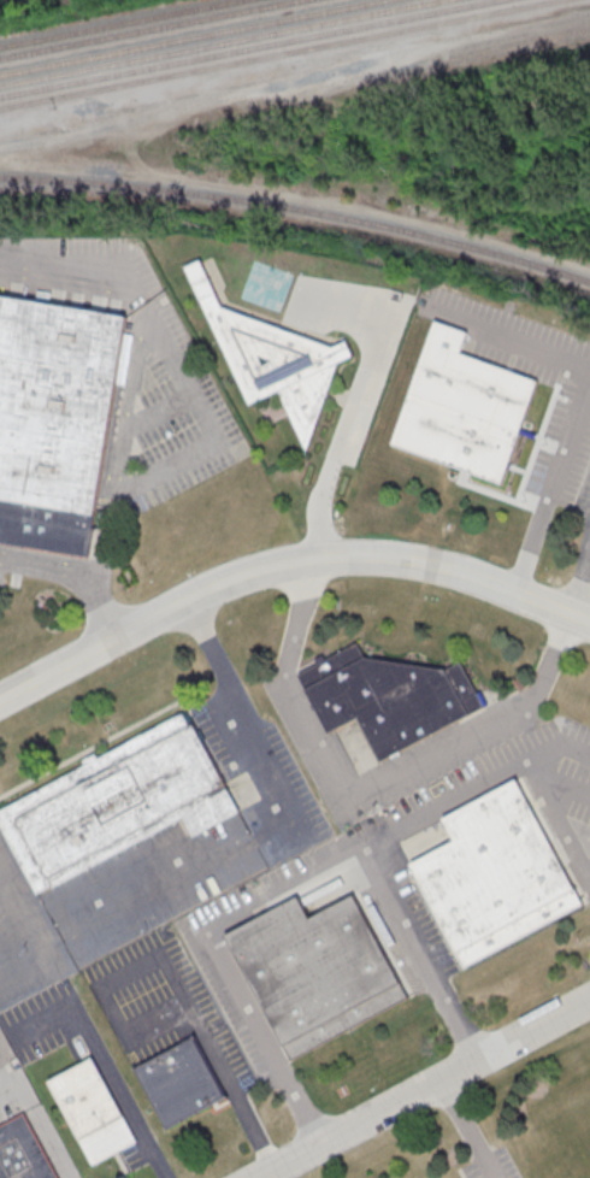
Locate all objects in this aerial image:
railway: (119, 23)
railway: (153, 29)
railway: (195, 37)
railway: (224, 43)
railway: (252, 48)
railway: (282, 54)
road: (295, 79)
railway: (297, 210)
road: (509, 336)
building: (279, 364)
road: (355, 397)
road: (194, 401)
building: (465, 408)
building: (57, 420)
road: (553, 484)
road: (284, 564)
road: (48, 571)
road: (580, 582)
road: (110, 611)
road: (216, 653)
building: (393, 699)
road: (367, 790)
building: (119, 802)
road: (559, 819)
road: (210, 842)
road: (1, 847)
parking lot: (159, 865)
building: (494, 873)
road: (589, 876)
road: (294, 889)
road: (28, 897)
road: (424, 954)
road: (28, 967)
building: (318, 972)
road: (177, 979)
parking lot: (167, 1000)
parking lot: (39, 1020)
road: (108, 1070)
building: (183, 1083)
road: (424, 1088)
building: (95, 1113)
road: (41, 1123)
road: (468, 1127)
building: (23, 1152)

